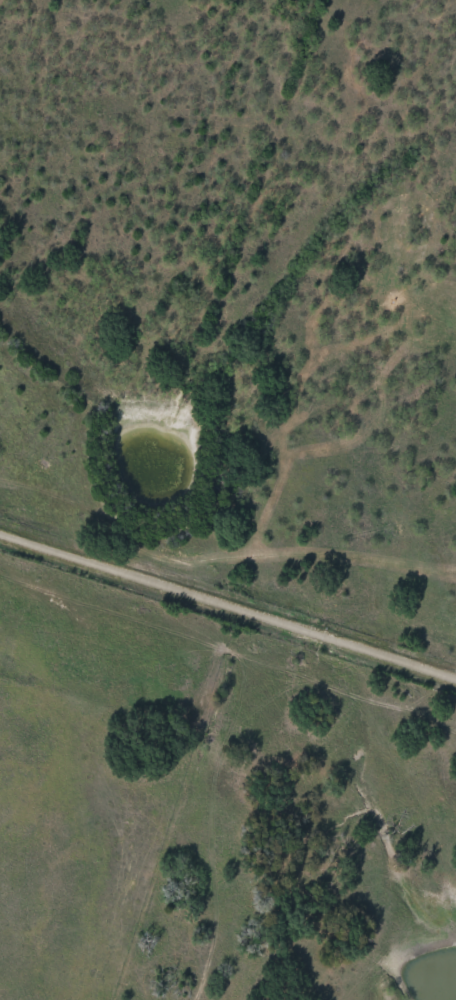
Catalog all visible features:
road: (227, 608)

